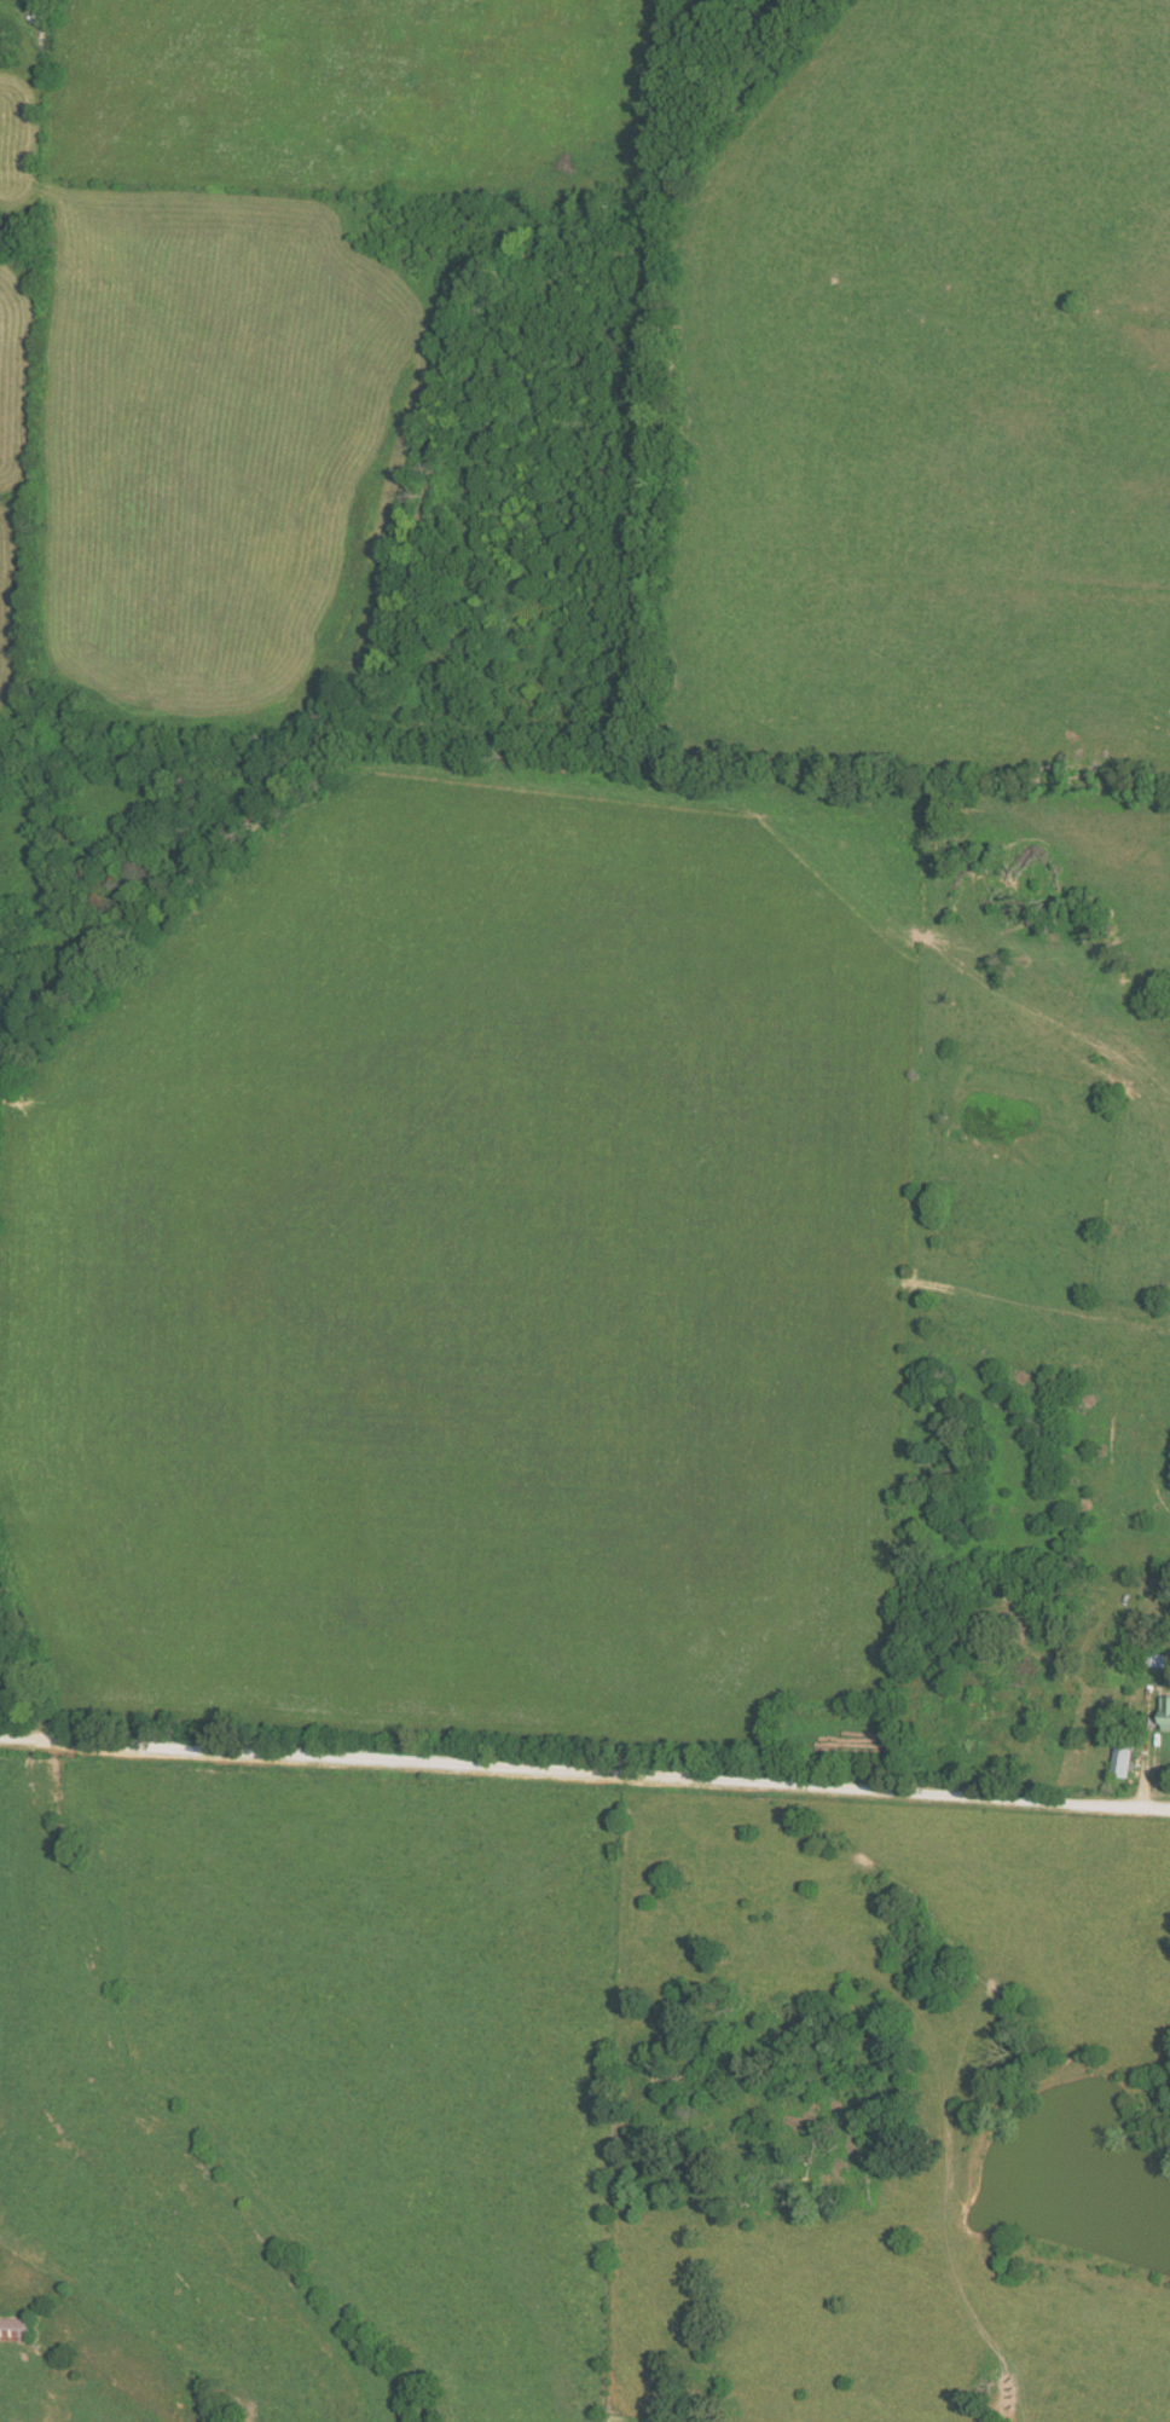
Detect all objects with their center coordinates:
building: (1168, 1713)
road: (1143, 1733)
building: (1124, 1758)
road: (585, 1765)

